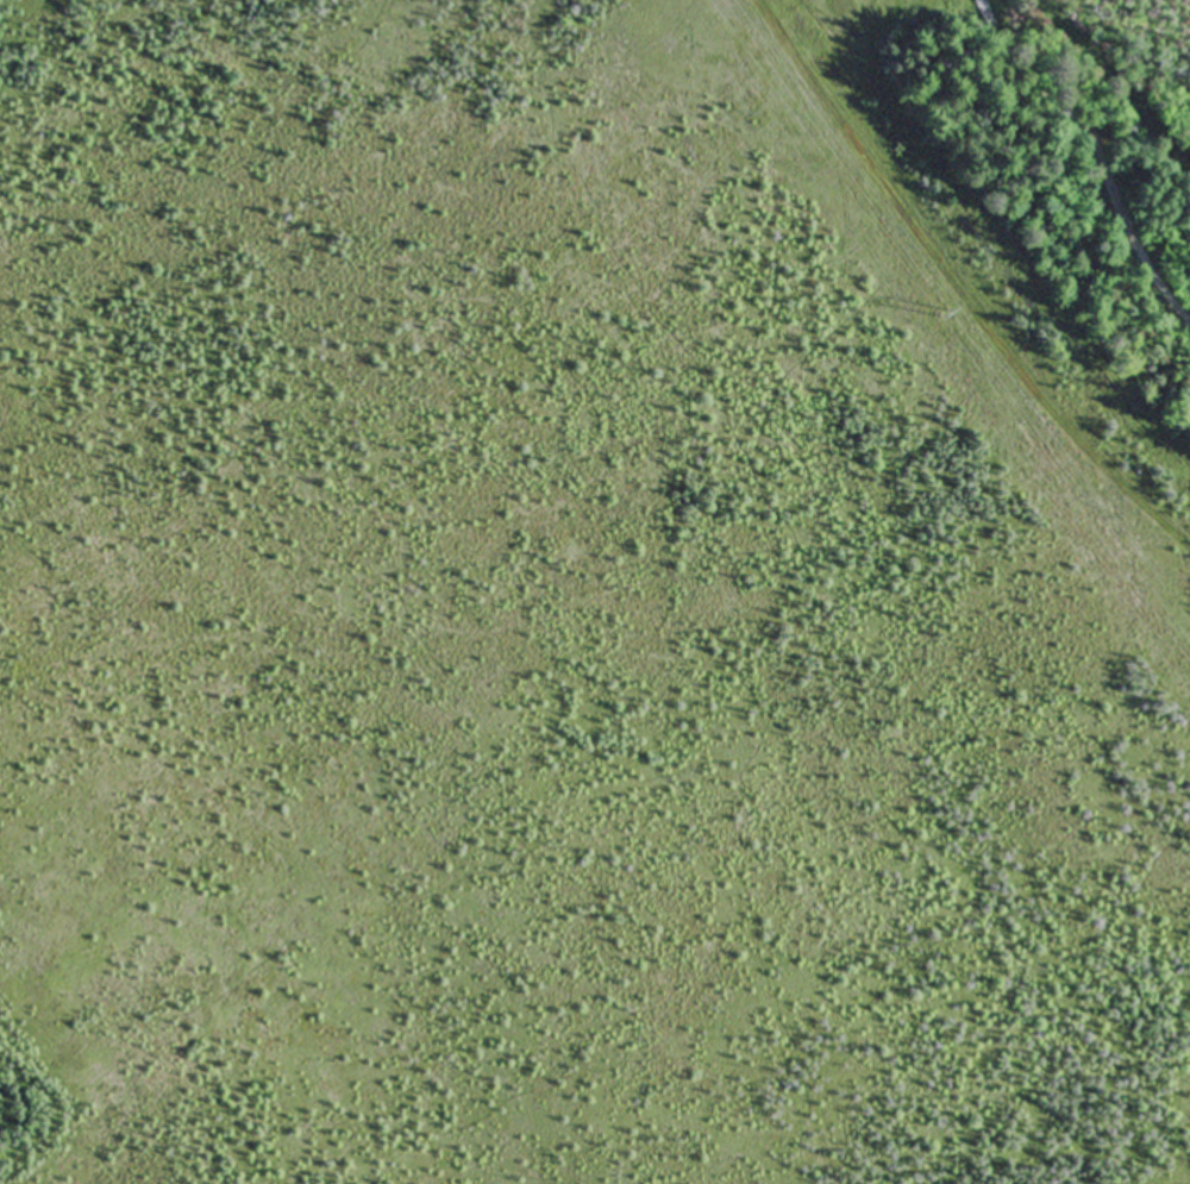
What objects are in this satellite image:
road: (975, 4)
road: (1089, 159)
power tower: (946, 308)

